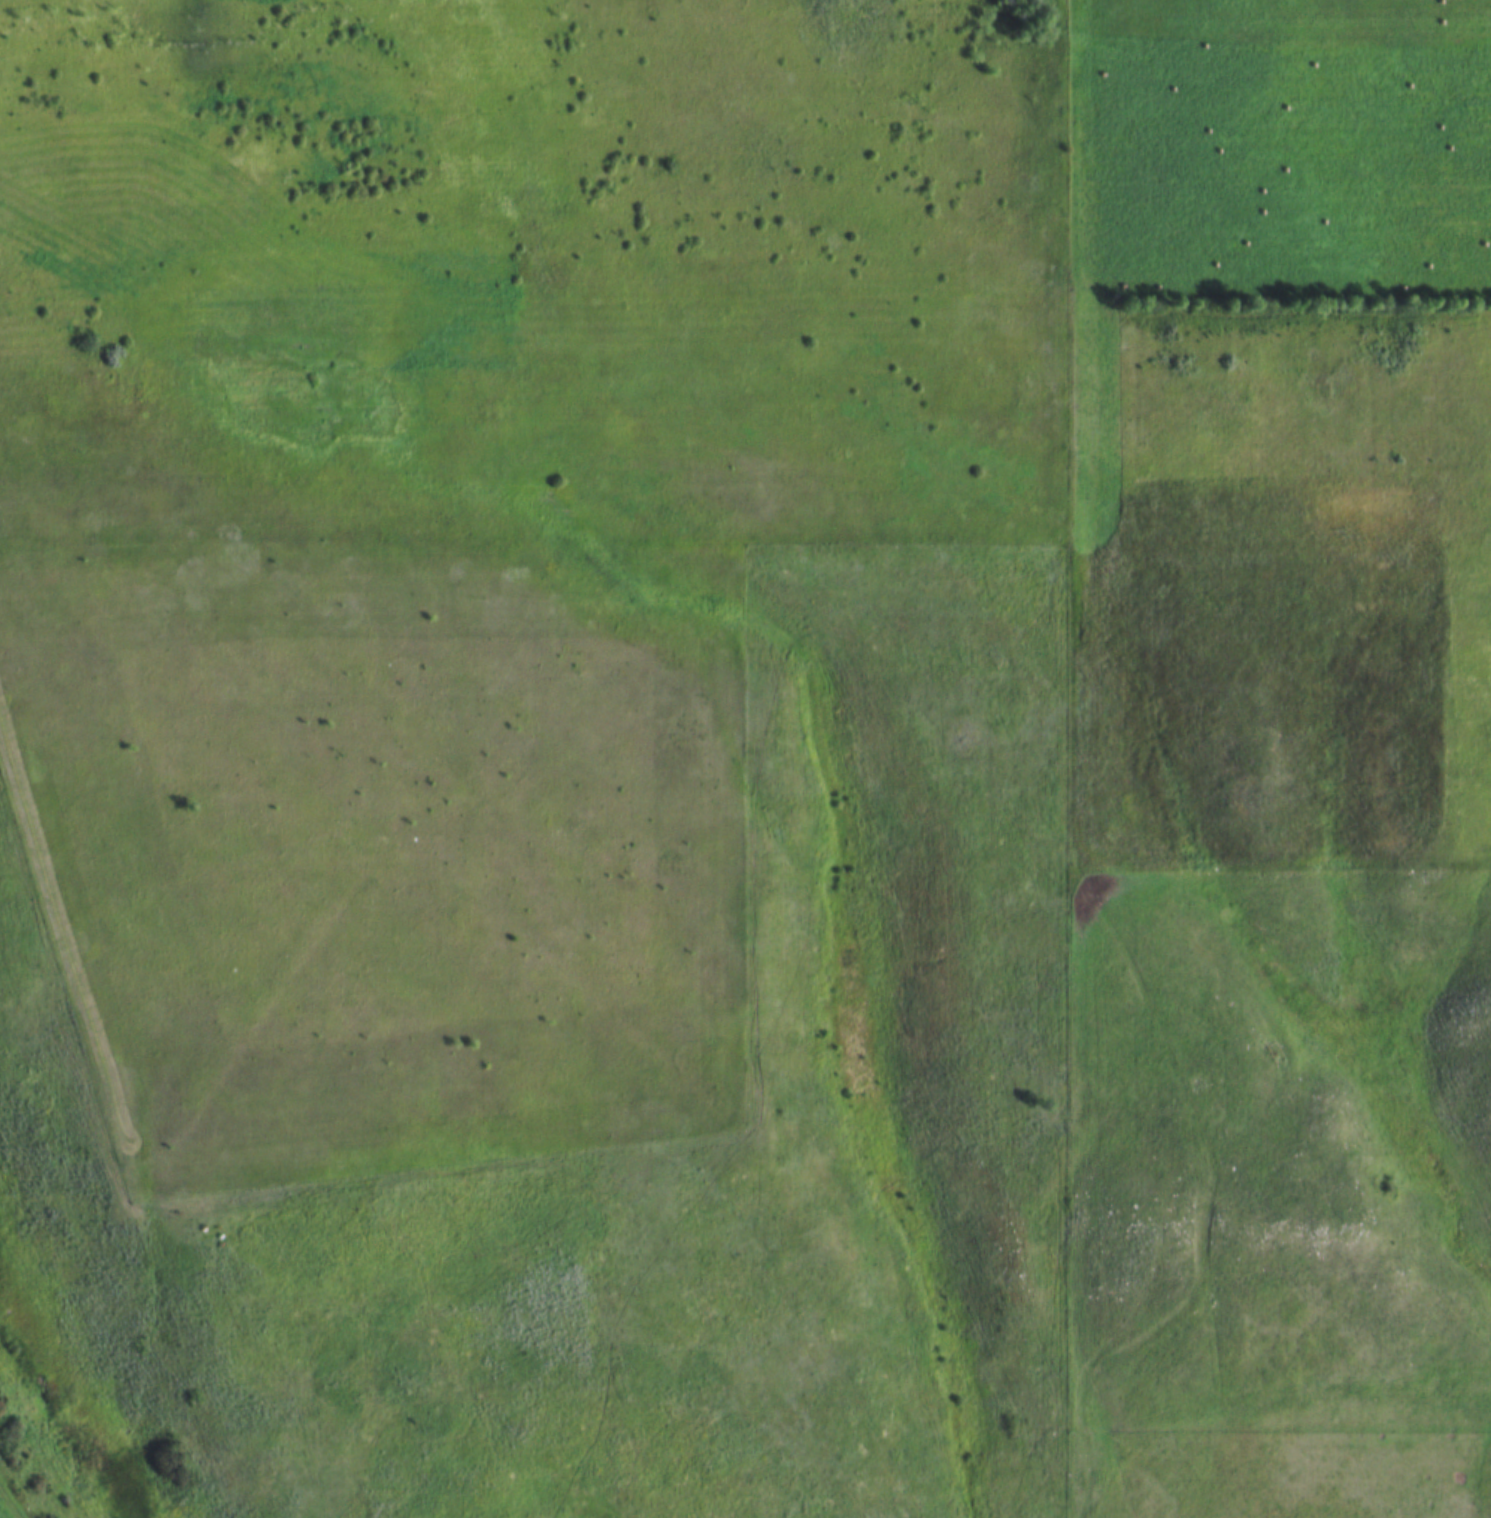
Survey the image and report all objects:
road: (9, 1504)

